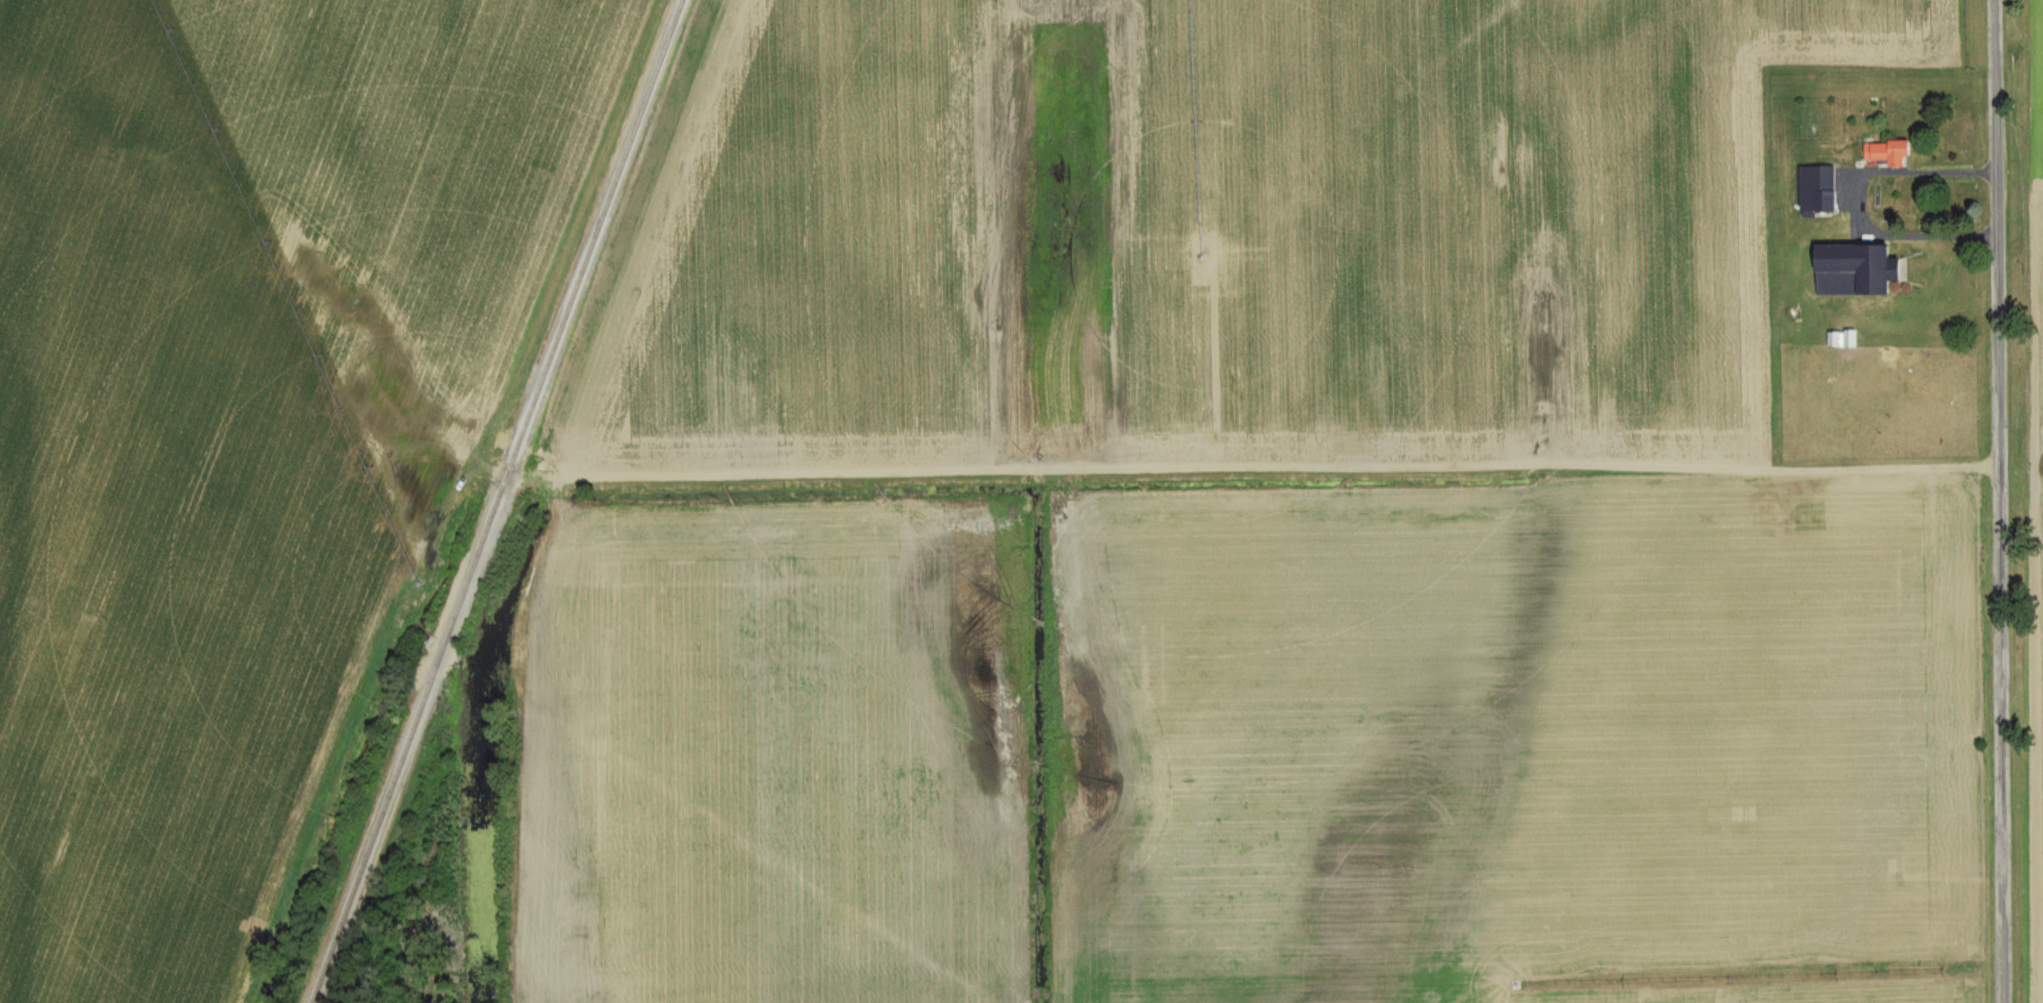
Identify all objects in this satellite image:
building: (1884, 154)
building: (1814, 191)
road: (1861, 205)
building: (1851, 272)
building: (1839, 340)
road: (1280, 476)
railway: (495, 501)
road: (1998, 501)

